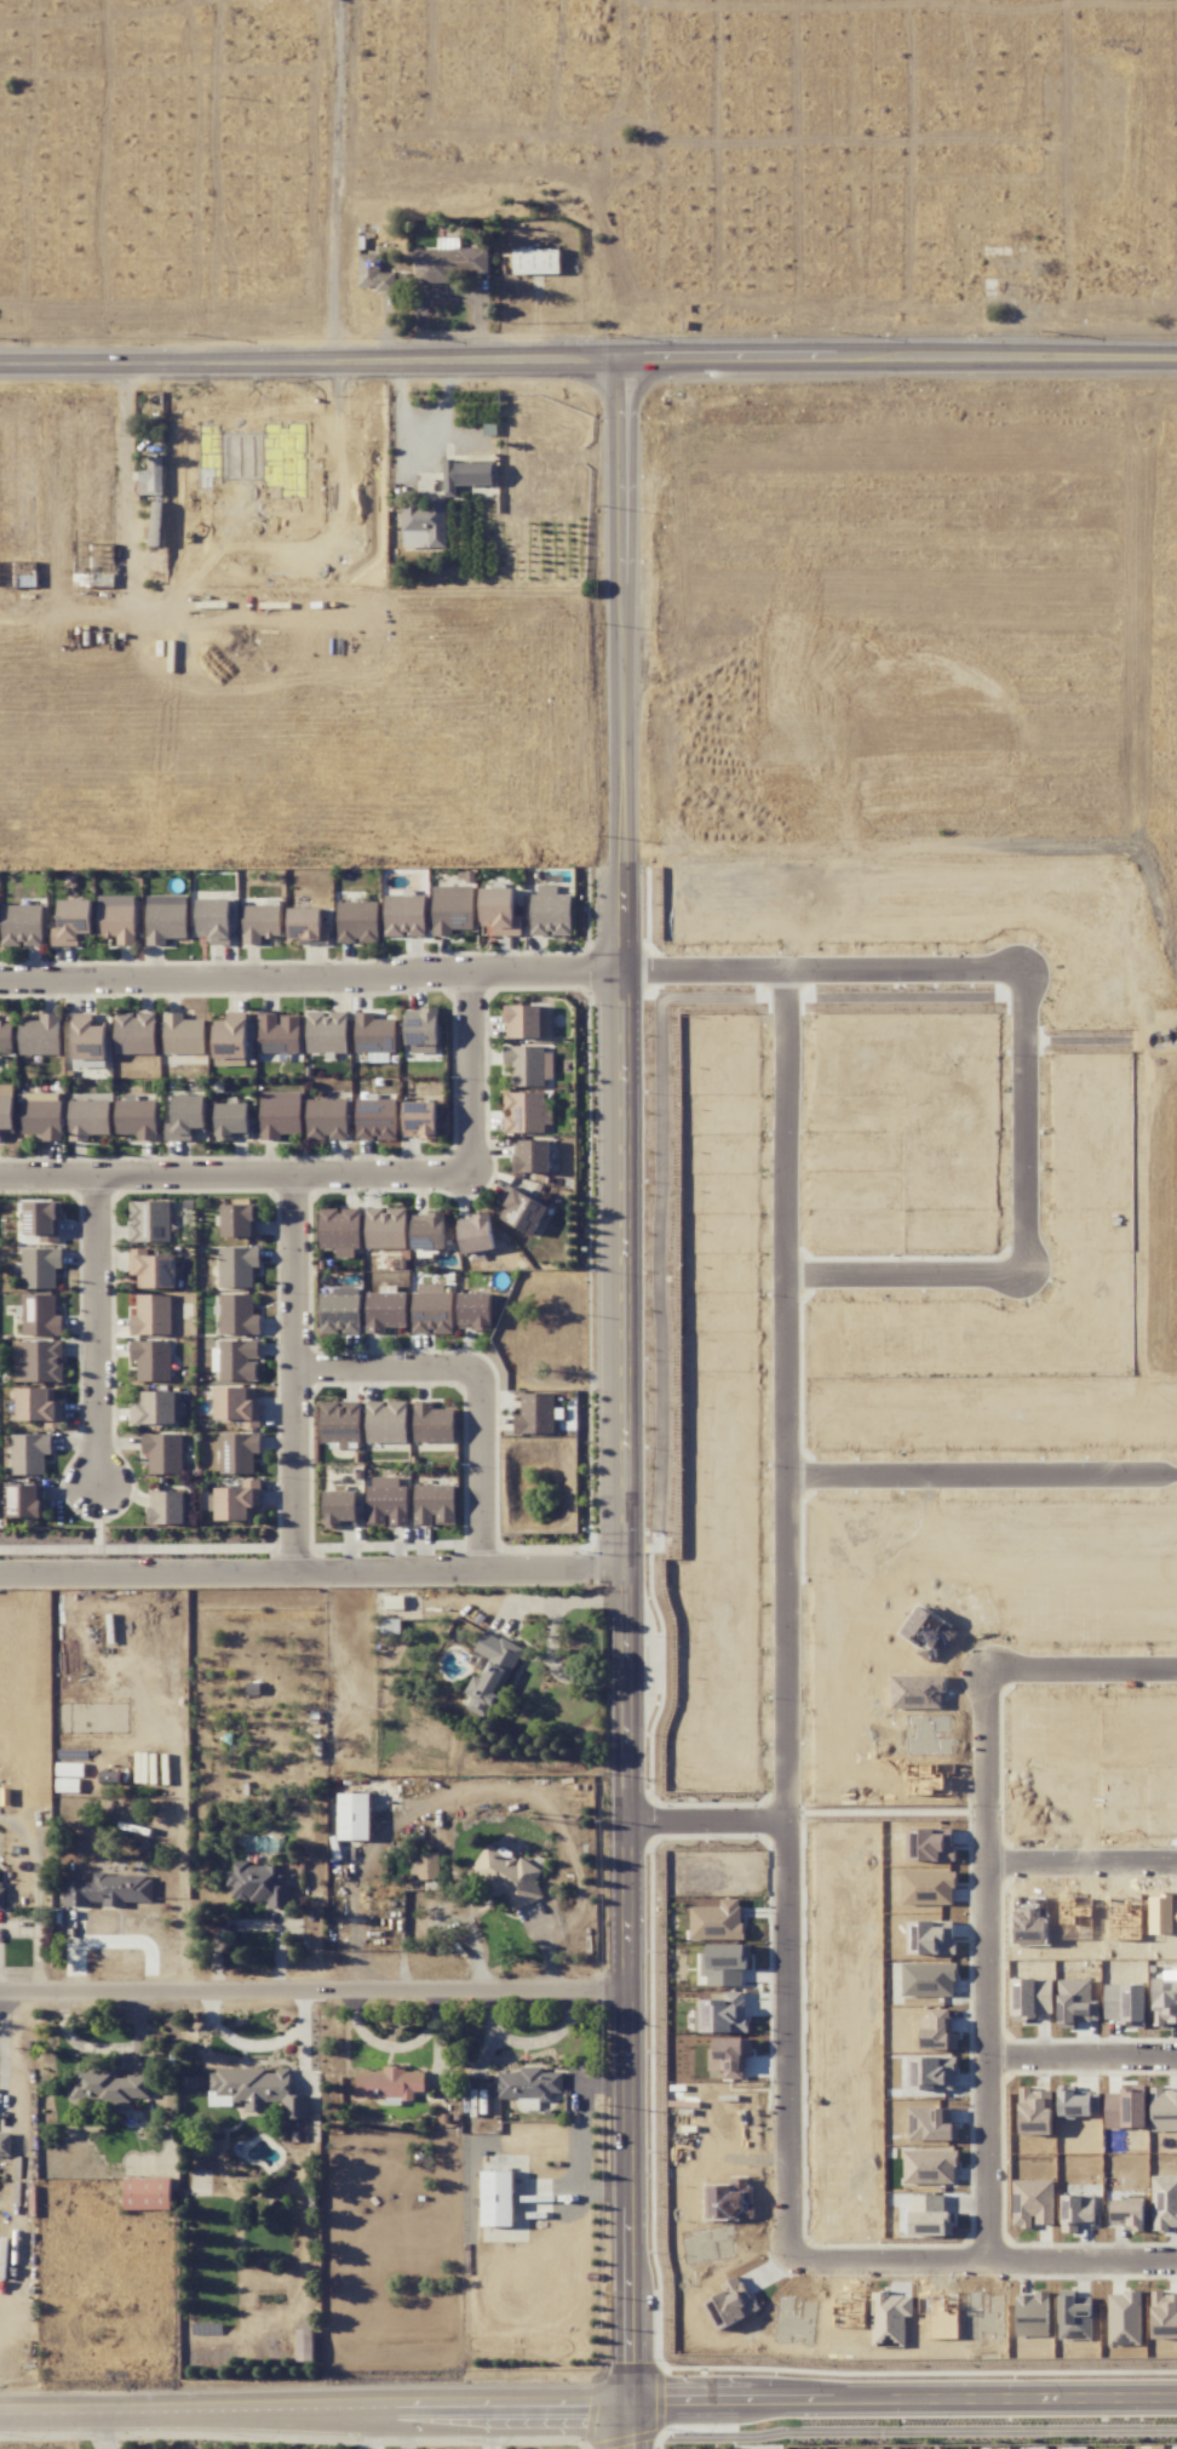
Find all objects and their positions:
building: (450, 261)
building: (535, 261)
road: (449, 297)
road: (811, 359)
road: (423, 361)
road: (199, 365)
building: (102, 416)
road: (423, 427)
road: (126, 451)
building: (465, 474)
building: (150, 477)
building: (425, 519)
building: (414, 539)
building: (452, 909)
building: (499, 911)
building: (550, 911)
building: (404, 916)
building: (116, 917)
building: (165, 917)
building: (214, 920)
building: (71, 922)
building: (357, 922)
building: (260, 923)
building: (21, 925)
building: (306, 926)
road: (311, 979)
building: (527, 1020)
building: (421, 1030)
building: (326, 1031)
building: (134, 1032)
building: (374, 1032)
building: (183, 1034)
building: (279, 1034)
building: (6, 1035)
building: (40, 1035)
building: (229, 1037)
building: (88, 1040)
building: (528, 1065)
road: (465, 1074)
building: (523, 1112)
building: (6, 1114)
building: (279, 1114)
building: (41, 1115)
building: (375, 1116)
building: (185, 1117)
building: (87, 1118)
building: (136, 1118)
building: (326, 1118)
building: (419, 1120)
building: (231, 1121)
road: (1022, 1121)
building: (530, 1155)
road: (232, 1171)
building: (521, 1209)
building: (42, 1220)
building: (149, 1220)
building: (240, 1220)
building: (385, 1228)
building: (339, 1231)
building: (429, 1231)
building: (476, 1234)
building: (40, 1266)
building: (237, 1266)
building: (150, 1270)
building: (384, 1310)
building: (432, 1310)
building: (475, 1310)
building: (339, 1312)
road: (782, 1314)
building: (40, 1315)
building: (151, 1315)
building: (236, 1315)
road: (103, 1334)
building: (151, 1360)
building: (239, 1360)
building: (38, 1361)
road: (292, 1371)
road: (386, 1371)
road: (625, 1404)
building: (40, 1406)
building: (237, 1406)
building: (154, 1408)
building: (535, 1413)
building: (386, 1421)
building: (432, 1423)
building: (339, 1424)
building: (163, 1452)
building: (237, 1452)
building: (29, 1453)
road: (483, 1472)
road: (980, 1472)
building: (25, 1500)
building: (237, 1501)
building: (386, 1501)
building: (434, 1504)
building: (165, 1507)
building: (340, 1509)
road: (312, 1569)
road: (555, 1601)
building: (394, 1602)
road: (557, 1670)
building: (490, 1672)
road: (987, 1680)
building: (354, 1816)
building: (424, 1865)
building: (505, 1877)
building: (258, 1884)
building: (0, 1888)
building: (109, 1890)
building: (717, 1921)
building: (724, 1964)
building: (928, 1979)
road: (314, 1996)
building: (1164, 2001)
building: (1075, 2002)
building: (1125, 2002)
building: (937, 2031)
road: (527, 2043)
road: (104, 2047)
road: (1086, 2055)
building: (729, 2056)
road: (786, 2058)
road: (1, 2061)
road: (995, 2065)
building: (931, 2072)
building: (389, 2084)
building: (527, 2085)
building: (108, 2088)
building: (257, 2090)
building: (1079, 2104)
building: (1126, 2107)
building: (1164, 2110)
building: (1037, 2112)
building: (930, 2123)
building: (5, 2144)
building: (929, 2167)
building: (147, 2193)
building: (496, 2198)
building: (1033, 2202)
building: (1164, 2203)
building: (924, 2207)
building: (1076, 2208)
building: (1127, 2213)
building: (1164, 2316)
building: (304, 2345)
road: (901, 2401)
road: (557, 2405)
road: (245, 2408)
road: (489, 2427)
road: (378, 2428)
road: (406, 2428)
road: (104, 2430)

